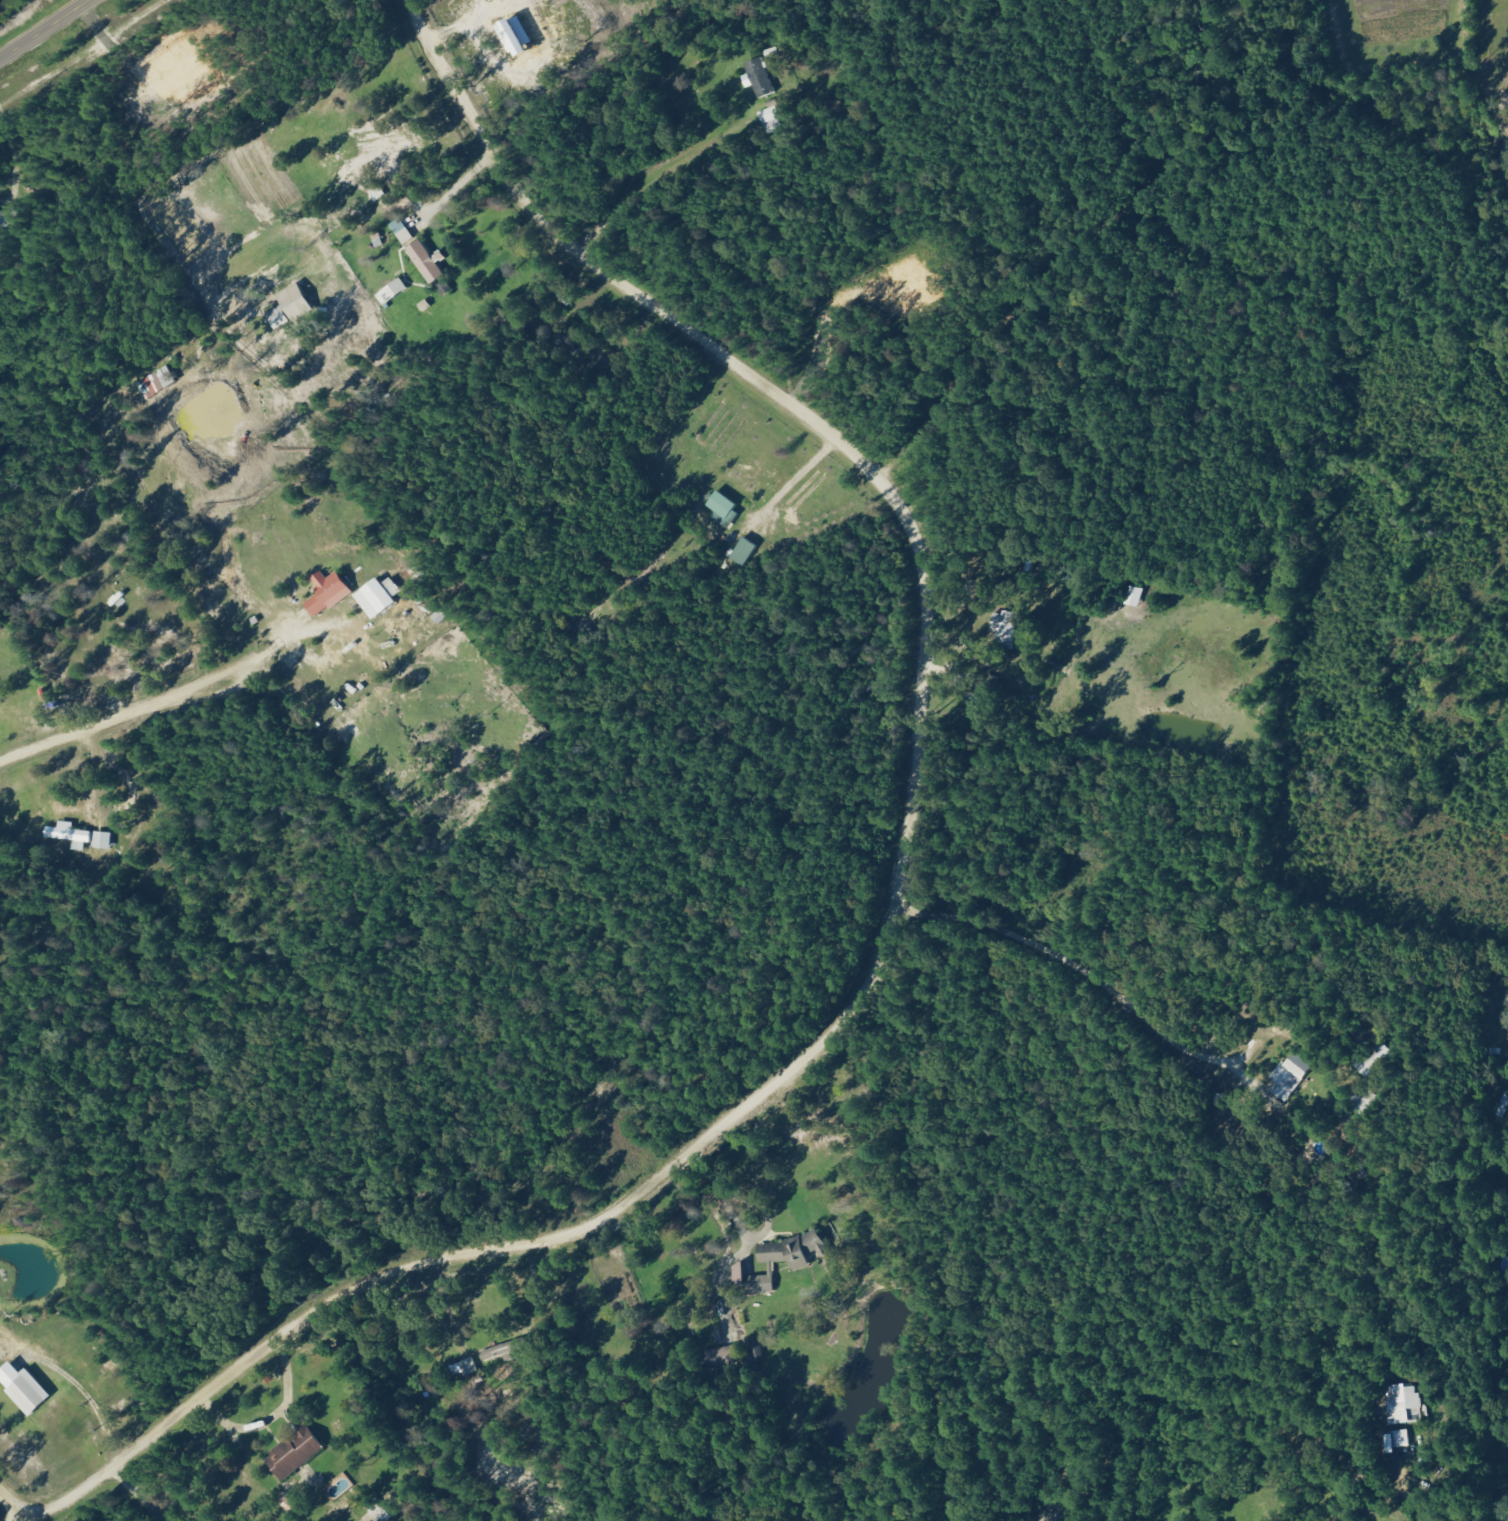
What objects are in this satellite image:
road: (44, 29)
building: (513, 34)
building: (757, 77)
building: (769, 119)
building: (428, 262)
building: (393, 292)
building: (279, 319)
building: (158, 382)
building: (722, 504)
building: (743, 552)
building: (329, 592)
building: (379, 596)
building: (1132, 596)
building: (1004, 628)
road: (140, 704)
building: (70, 835)
building: (103, 840)
road: (826, 885)
building: (1371, 1059)
building: (1289, 1076)
building: (782, 1260)
building: (503, 1351)
building: (757, 1351)
building: (720, 1358)
building: (24, 1387)
building: (1403, 1404)
building: (1397, 1440)
building: (296, 1452)
road: (1402, 1472)
building: (288, 1503)
road: (4, 1505)

